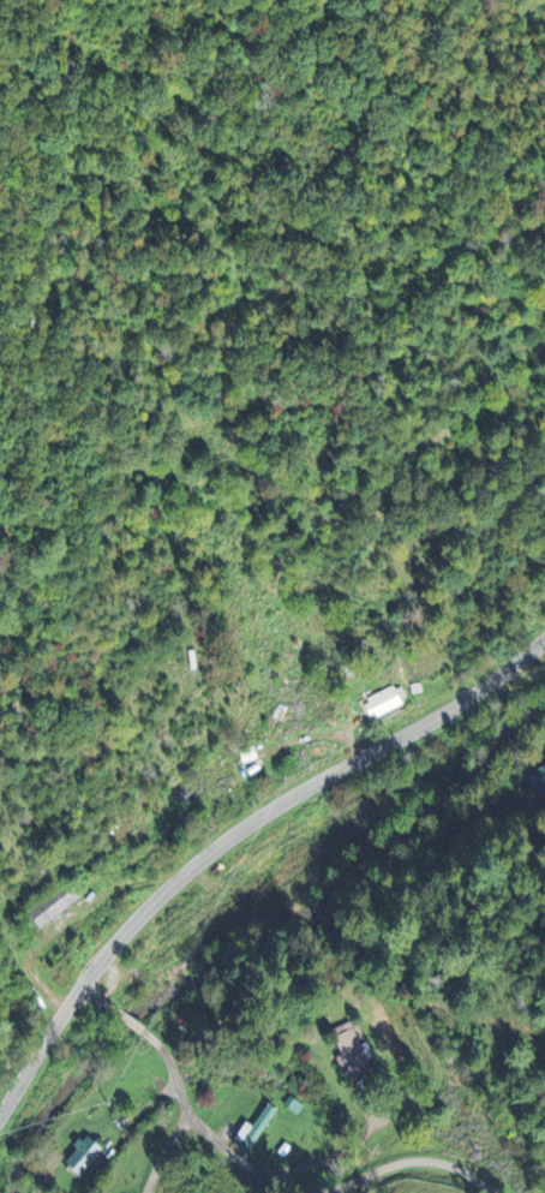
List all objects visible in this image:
building: (381, 702)
building: (543, 776)
road: (236, 837)
building: (348, 1049)
road: (186, 1105)
building: (82, 1155)
road: (322, 1157)
road: (412, 1163)

